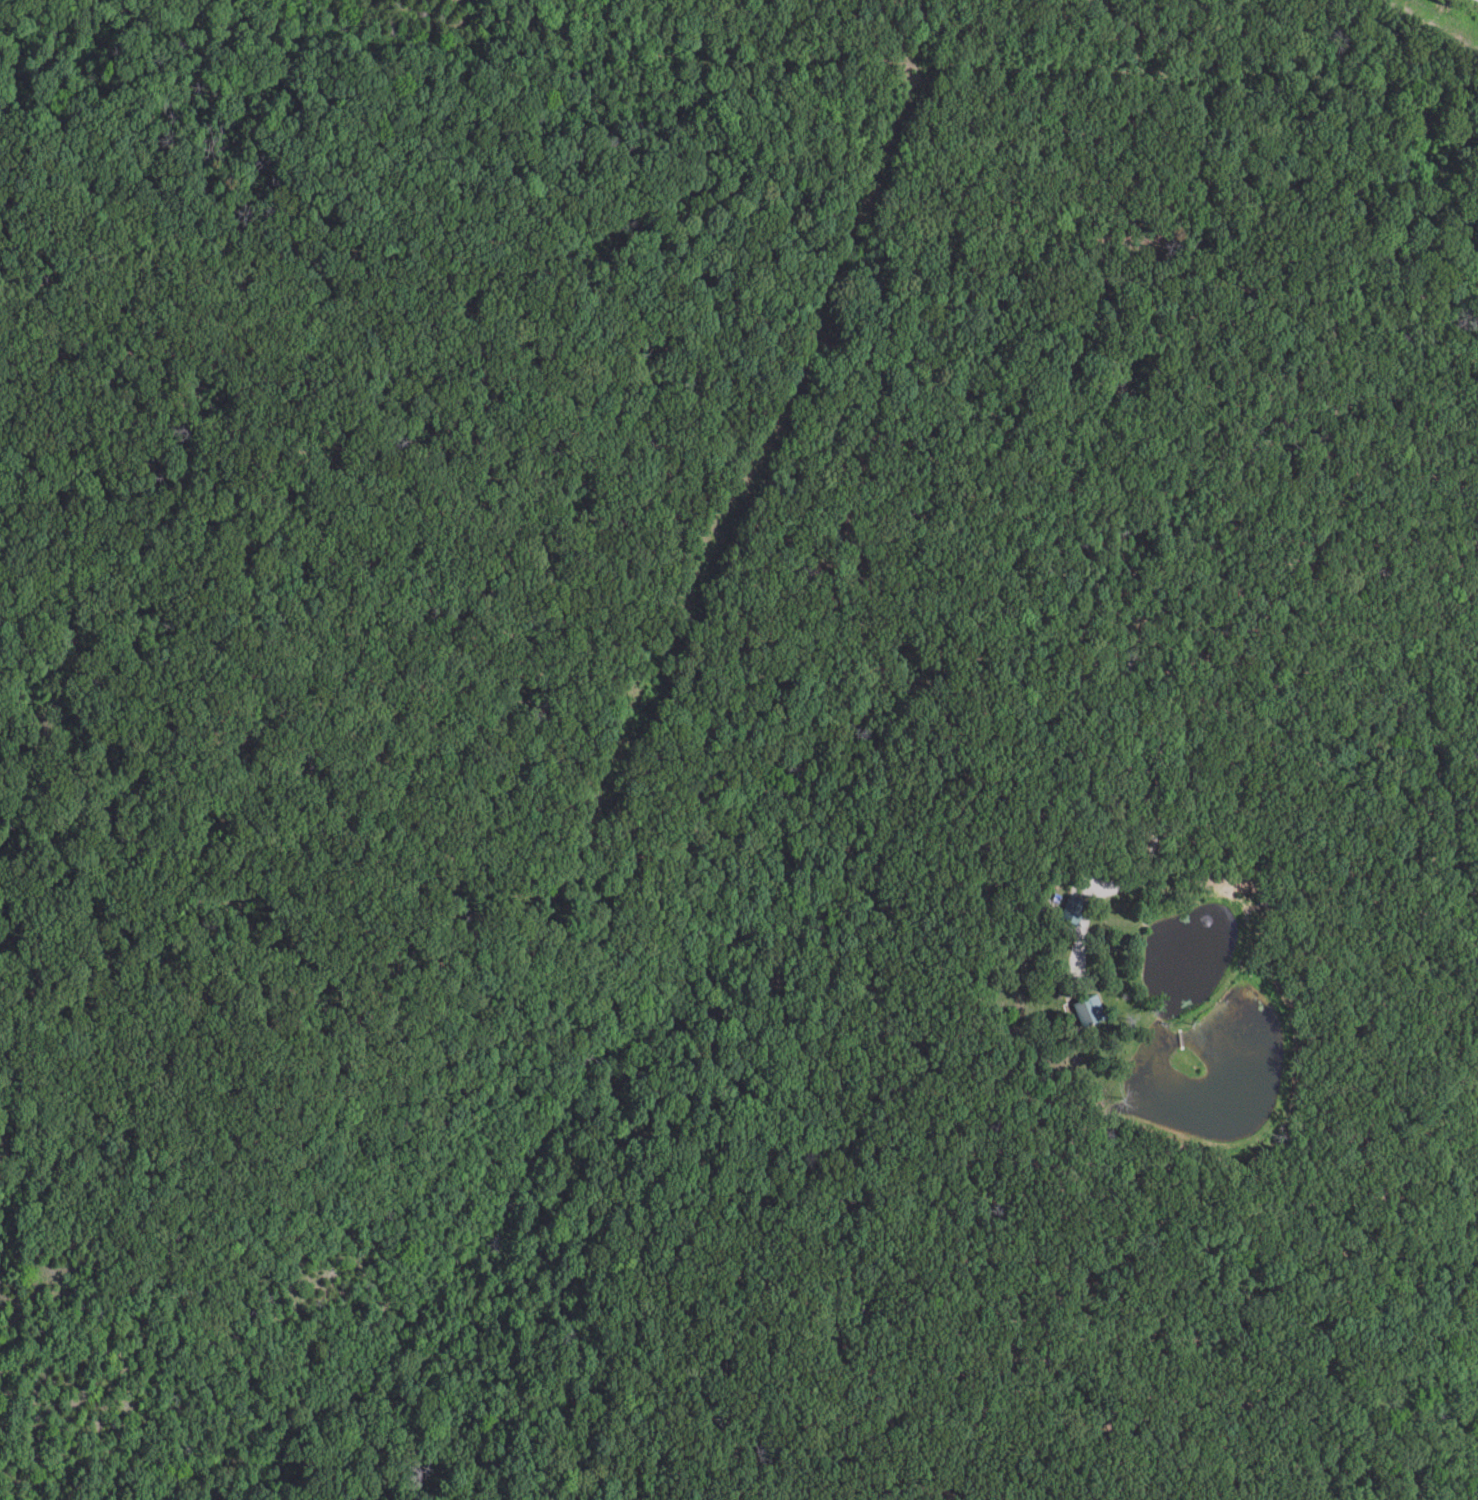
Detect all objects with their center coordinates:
building: (1074, 910)

